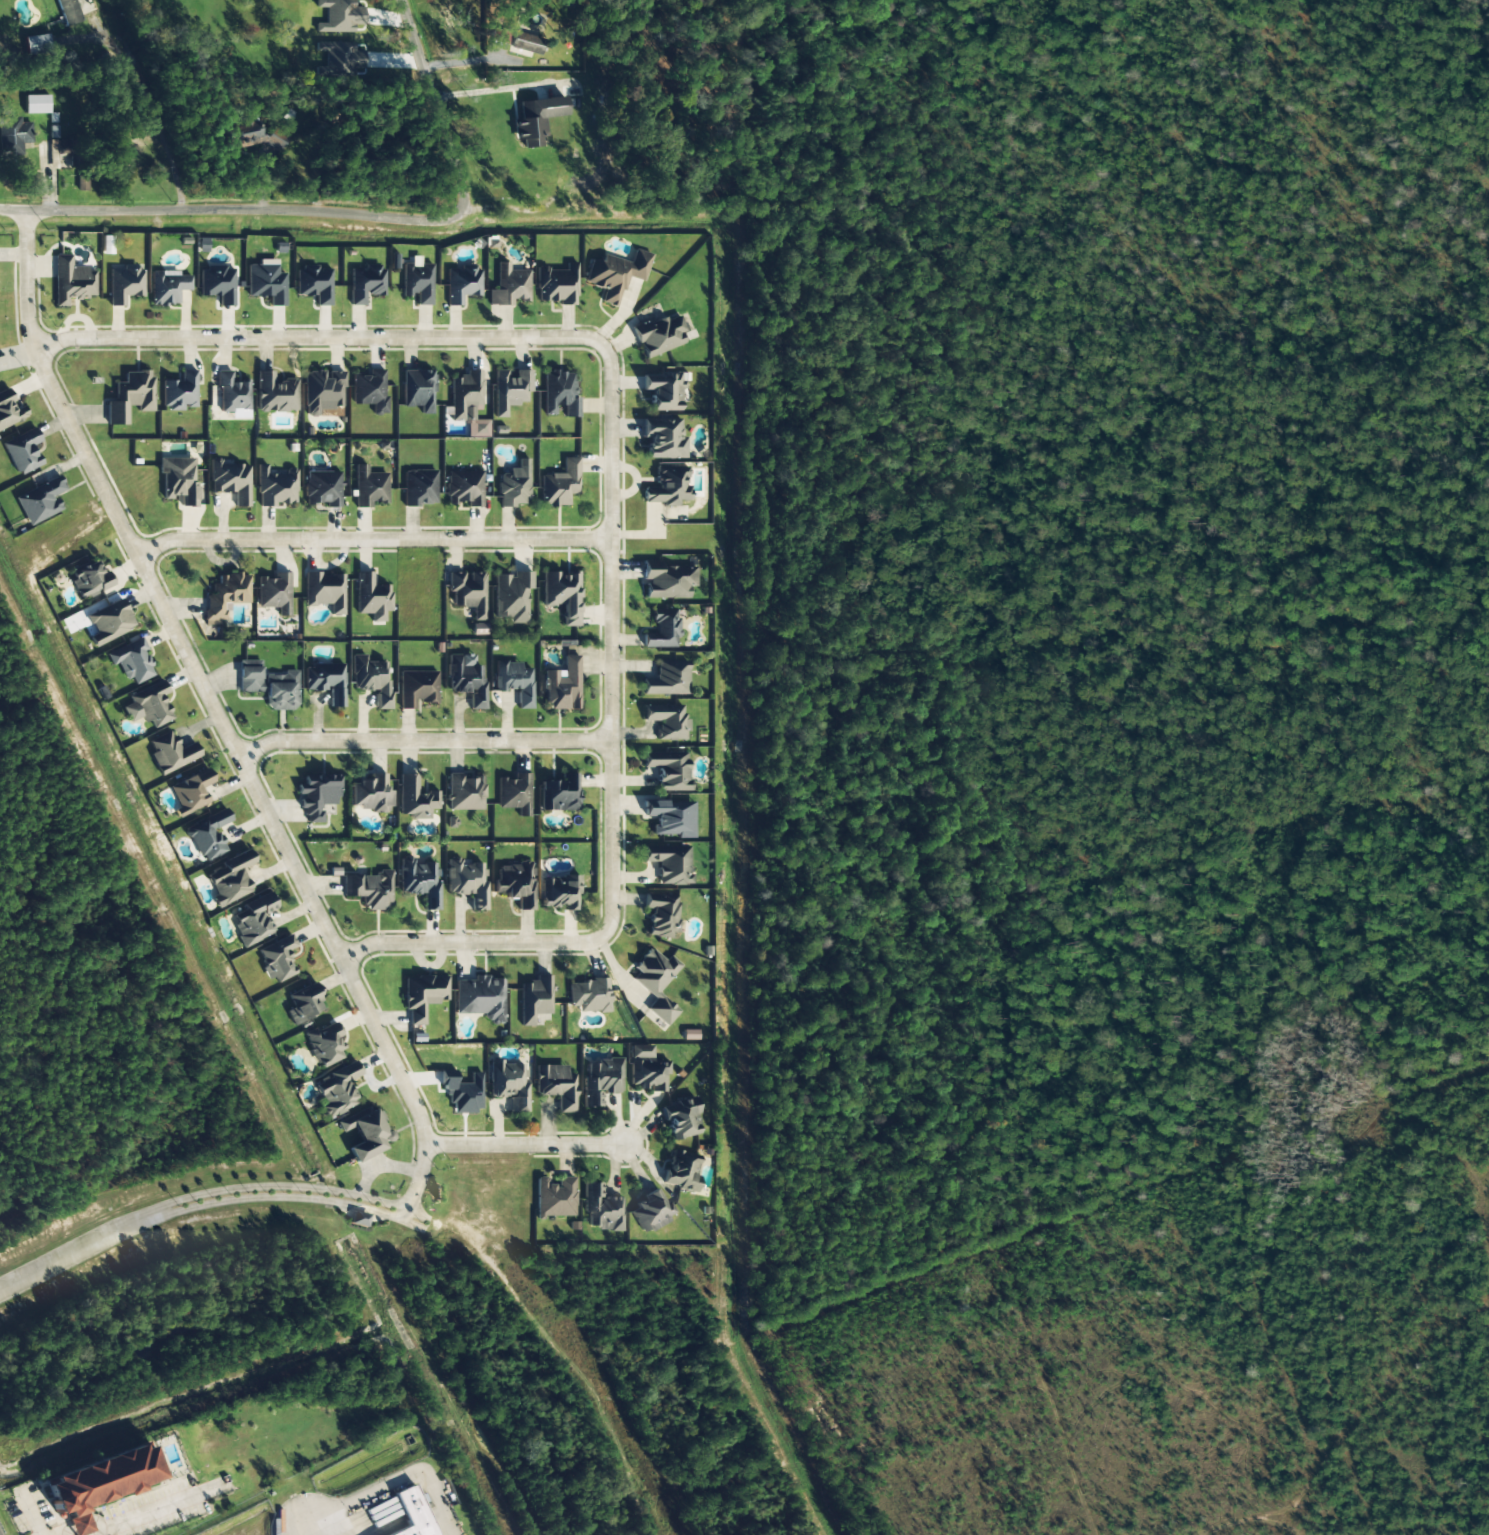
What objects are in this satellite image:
building: (68, 12)
building: (338, 16)
building: (525, 43)
building: (36, 45)
building: (338, 58)
building: (36, 104)
building: (536, 120)
building: (14, 135)
building: (246, 136)
building: (69, 152)
building: (81, 184)
road: (331, 211)
building: (615, 274)
building: (71, 281)
building: (266, 282)
building: (417, 282)
building: (366, 283)
building: (125, 284)
building: (218, 284)
building: (314, 284)
building: (462, 284)
building: (557, 285)
building: (509, 286)
building: (167, 287)
building: (658, 335)
building: (369, 390)
building: (418, 390)
building: (510, 390)
building: (322, 391)
building: (663, 391)
building: (180, 392)
building: (232, 393)
building: (559, 393)
building: (275, 394)
building: (130, 396)
building: (468, 403)
building: (9, 411)
building: (663, 438)
building: (22, 451)
building: (178, 480)
building: (230, 480)
building: (560, 484)
building: (275, 486)
building: (514, 486)
road: (609, 486)
building: (668, 486)
building: (369, 487)
building: (419, 488)
building: (464, 488)
building: (322, 489)
building: (40, 501)
road: (370, 539)
building: (90, 580)
building: (667, 580)
building: (324, 591)
building: (467, 592)
building: (274, 593)
building: (562, 595)
building: (225, 596)
building: (511, 596)
building: (371, 597)
building: (109, 622)
building: (662, 629)
building: (131, 661)
building: (371, 679)
building: (466, 679)
building: (667, 679)
building: (326, 681)
building: (514, 681)
building: (563, 686)
building: (271, 687)
building: (417, 688)
building: (148, 705)
building: (667, 721)
road: (216, 724)
road: (417, 743)
building: (170, 753)
building: (668, 770)
building: (190, 791)
building: (465, 792)
building: (371, 794)
building: (514, 794)
building: (560, 794)
building: (317, 795)
building: (415, 799)
building: (670, 818)
building: (208, 835)
building: (669, 862)
building: (229, 879)
building: (419, 881)
building: (467, 882)
building: (516, 883)
building: (369, 889)
building: (559, 892)
building: (661, 914)
building: (254, 919)
building: (277, 959)
building: (656, 983)
building: (422, 995)
building: (588, 995)
building: (480, 998)
building: (534, 999)
building: (304, 1004)
building: (689, 1035)
building: (324, 1044)
building: (646, 1069)
building: (601, 1081)
building: (508, 1084)
building: (556, 1086)
building: (338, 1089)
building: (680, 1119)
building: (365, 1133)
road: (525, 1149)
building: (681, 1170)
road: (286, 1186)
building: (554, 1197)
road: (287, 1199)
building: (601, 1208)
building: (650, 1212)
building: (358, 1219)
road: (83, 1254)
building: (94, 1479)
road: (388, 1483)
building: (407, 1513)
building: (75, 1524)

